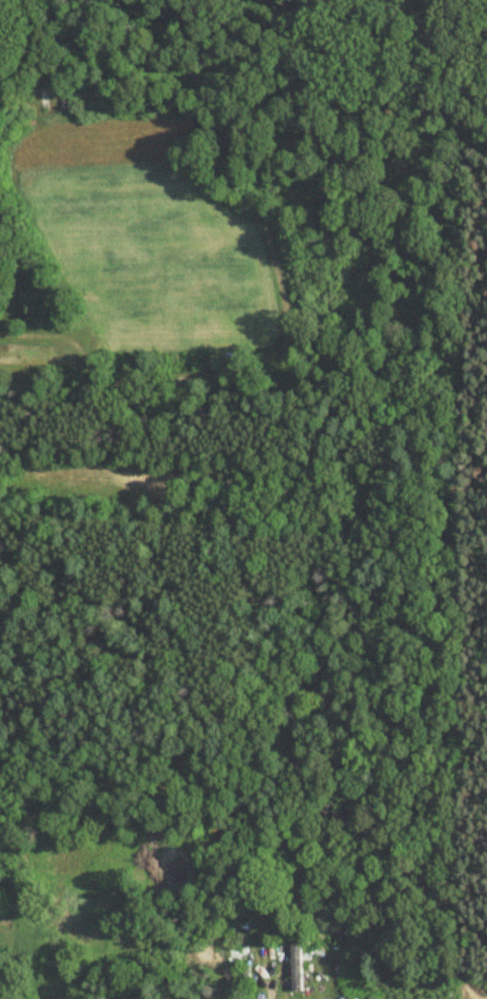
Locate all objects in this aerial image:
building: (296, 969)

